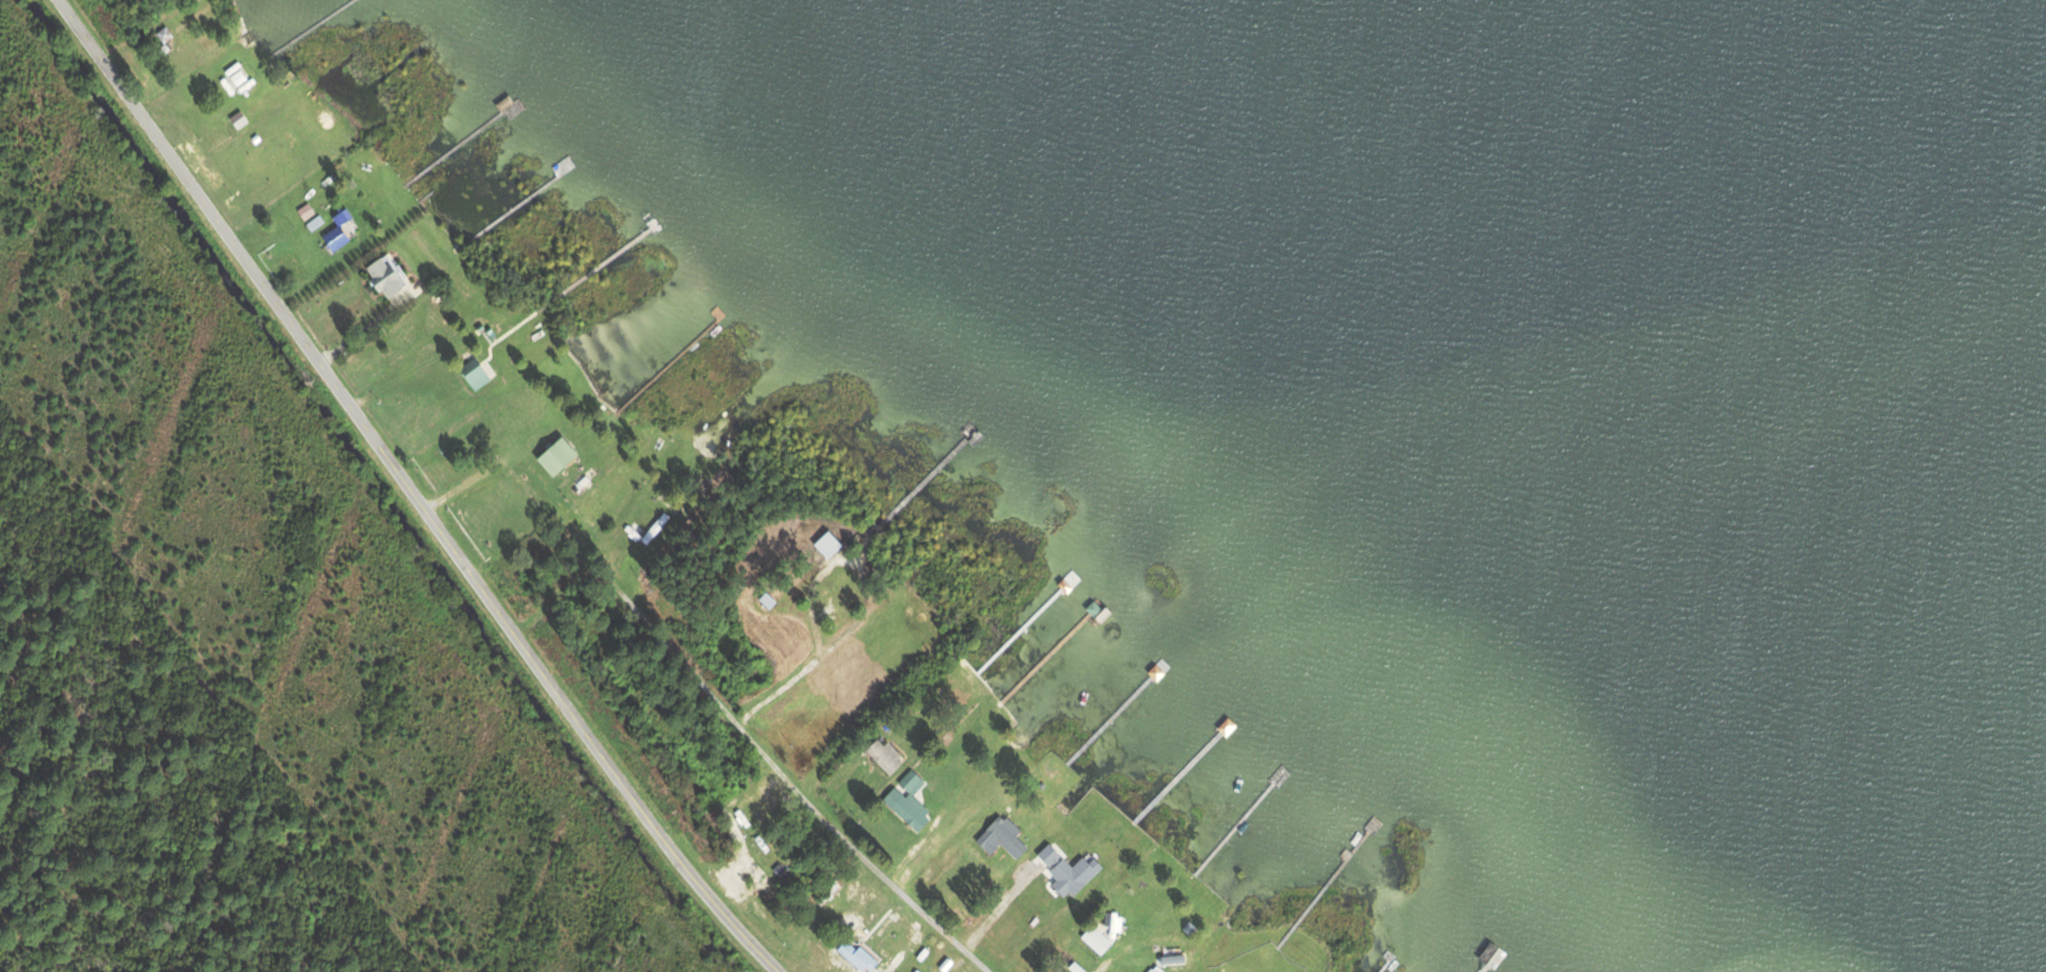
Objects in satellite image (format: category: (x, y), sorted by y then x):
pier: (309, 23)
building: (508, 106)
pier: (457, 140)
pier: (514, 202)
building: (304, 212)
building: (339, 218)
building: (313, 223)
building: (333, 242)
pier: (593, 265)
building: (378, 279)
pier: (667, 361)
building: (472, 375)
building: (552, 455)
pier: (922, 478)
road: (413, 492)
road: (856, 528)
building: (654, 529)
building: (824, 544)
building: (765, 601)
building: (1091, 610)
pier: (1018, 626)
pier: (1046, 653)
road: (688, 670)
pier: (1111, 712)
building: (882, 755)
pier: (1179, 770)
building: (905, 801)
pier: (1236, 821)
building: (1371, 824)
building: (1006, 837)
building: (1064, 877)
pier: (1324, 879)
road: (890, 882)
building: (825, 894)
building: (1094, 940)
building: (1489, 951)
building: (855, 955)
pier: (1381, 963)
pier: (1484, 963)
building: (1148, 969)
building: (1152, 969)

